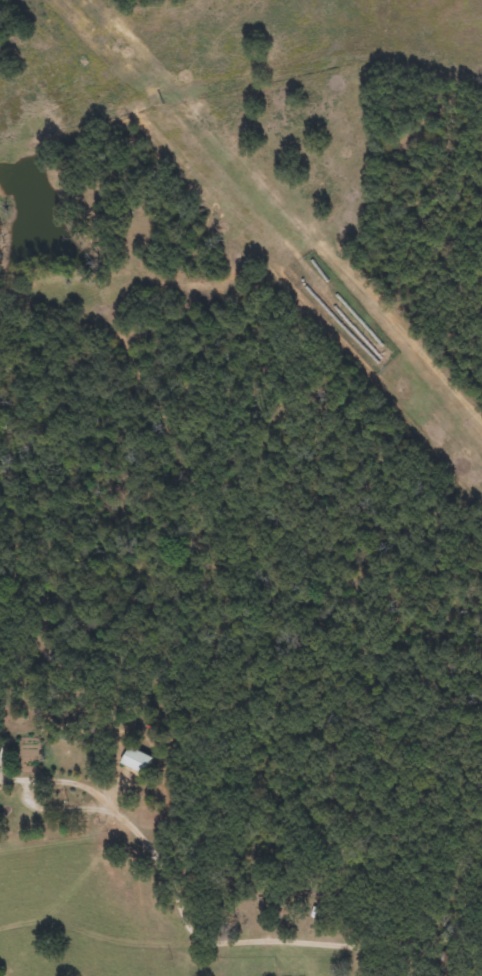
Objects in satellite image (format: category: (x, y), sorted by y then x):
building: (129, 760)
road: (30, 789)
road: (263, 948)

